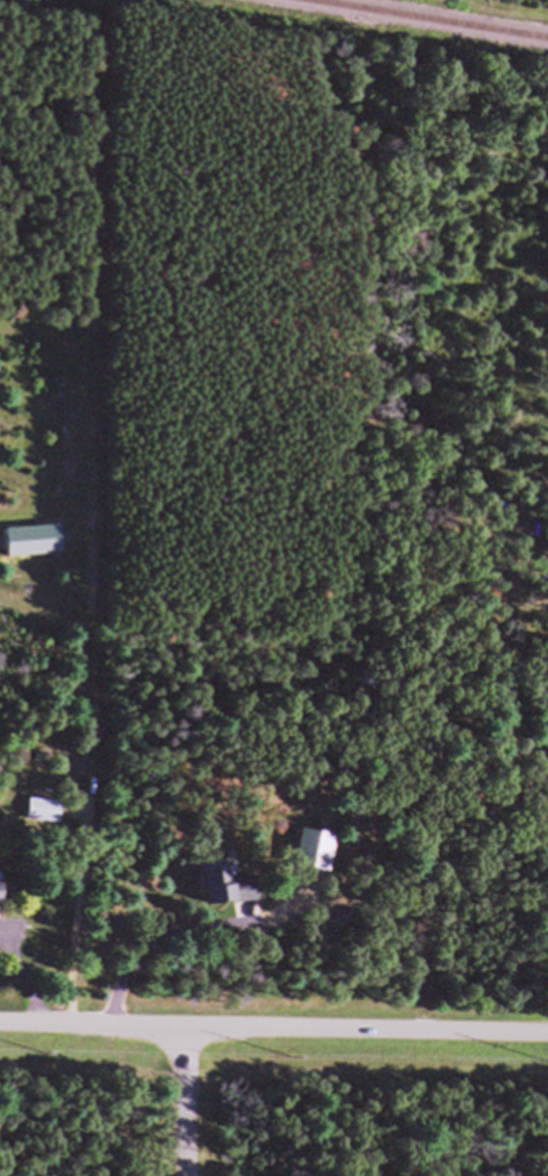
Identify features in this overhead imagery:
railway: (402, 23)
road: (92, 776)
building: (49, 820)
building: (225, 895)
building: (0, 898)
road: (160, 938)
road: (273, 1023)
road: (197, 1099)

